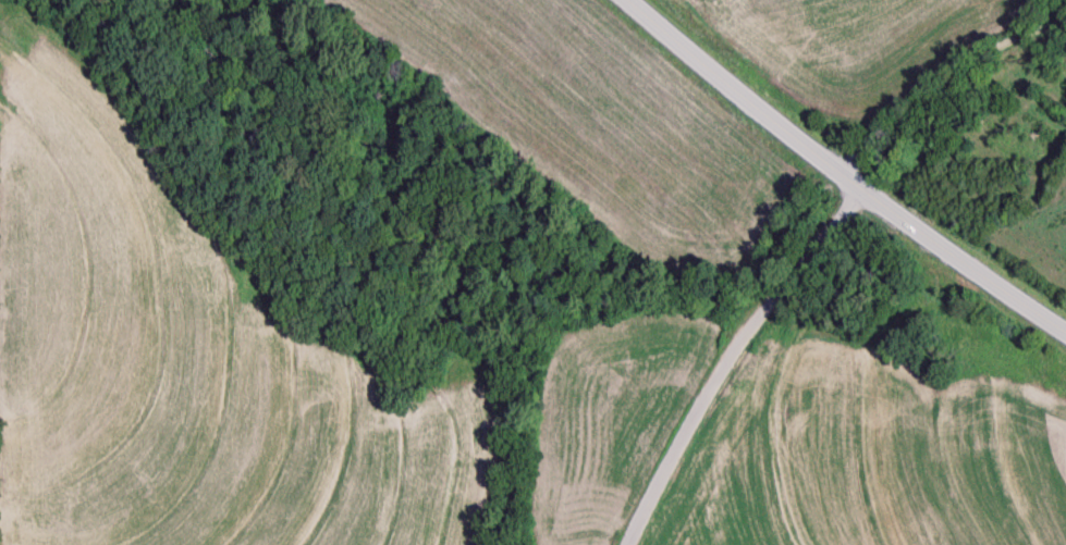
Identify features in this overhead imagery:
road: (838, 171)
road: (733, 356)

